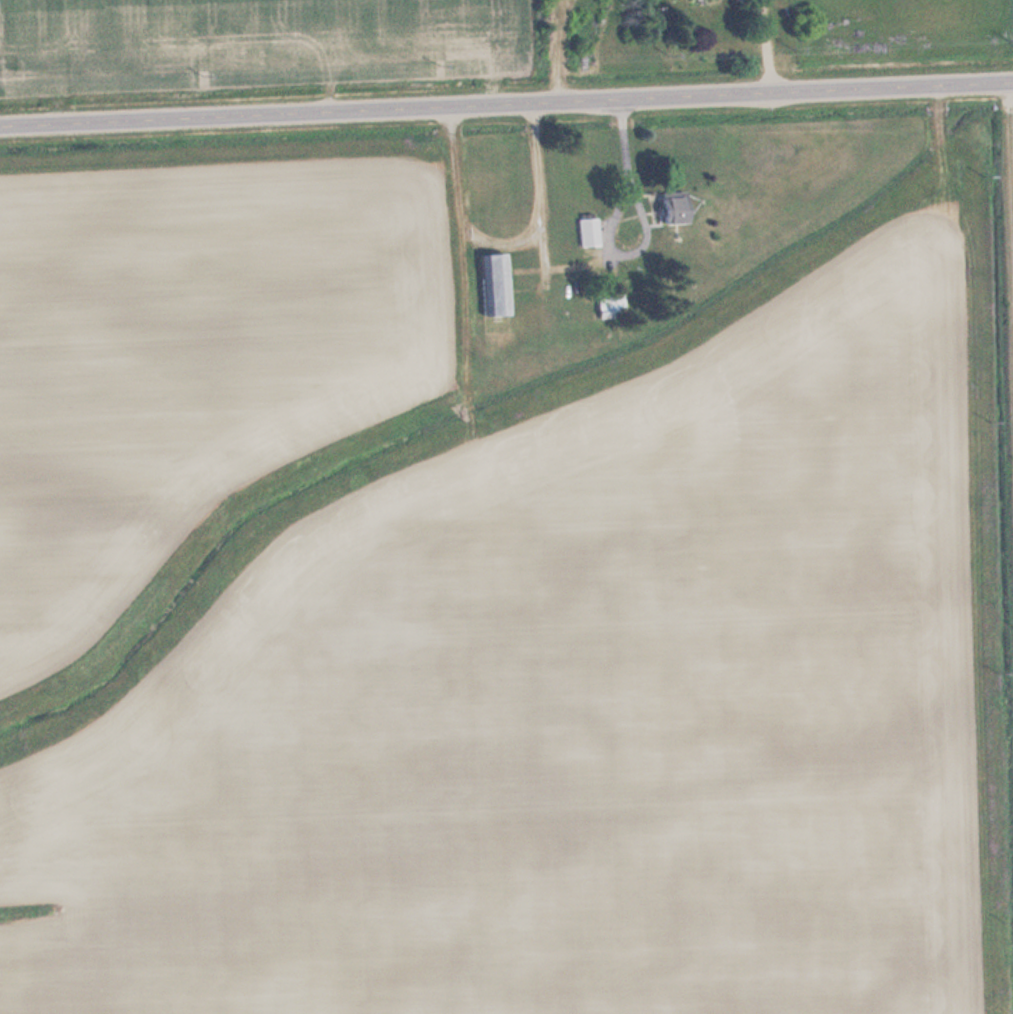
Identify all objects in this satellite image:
road: (506, 102)
building: (677, 207)
building: (589, 231)
building: (495, 284)
building: (611, 304)

